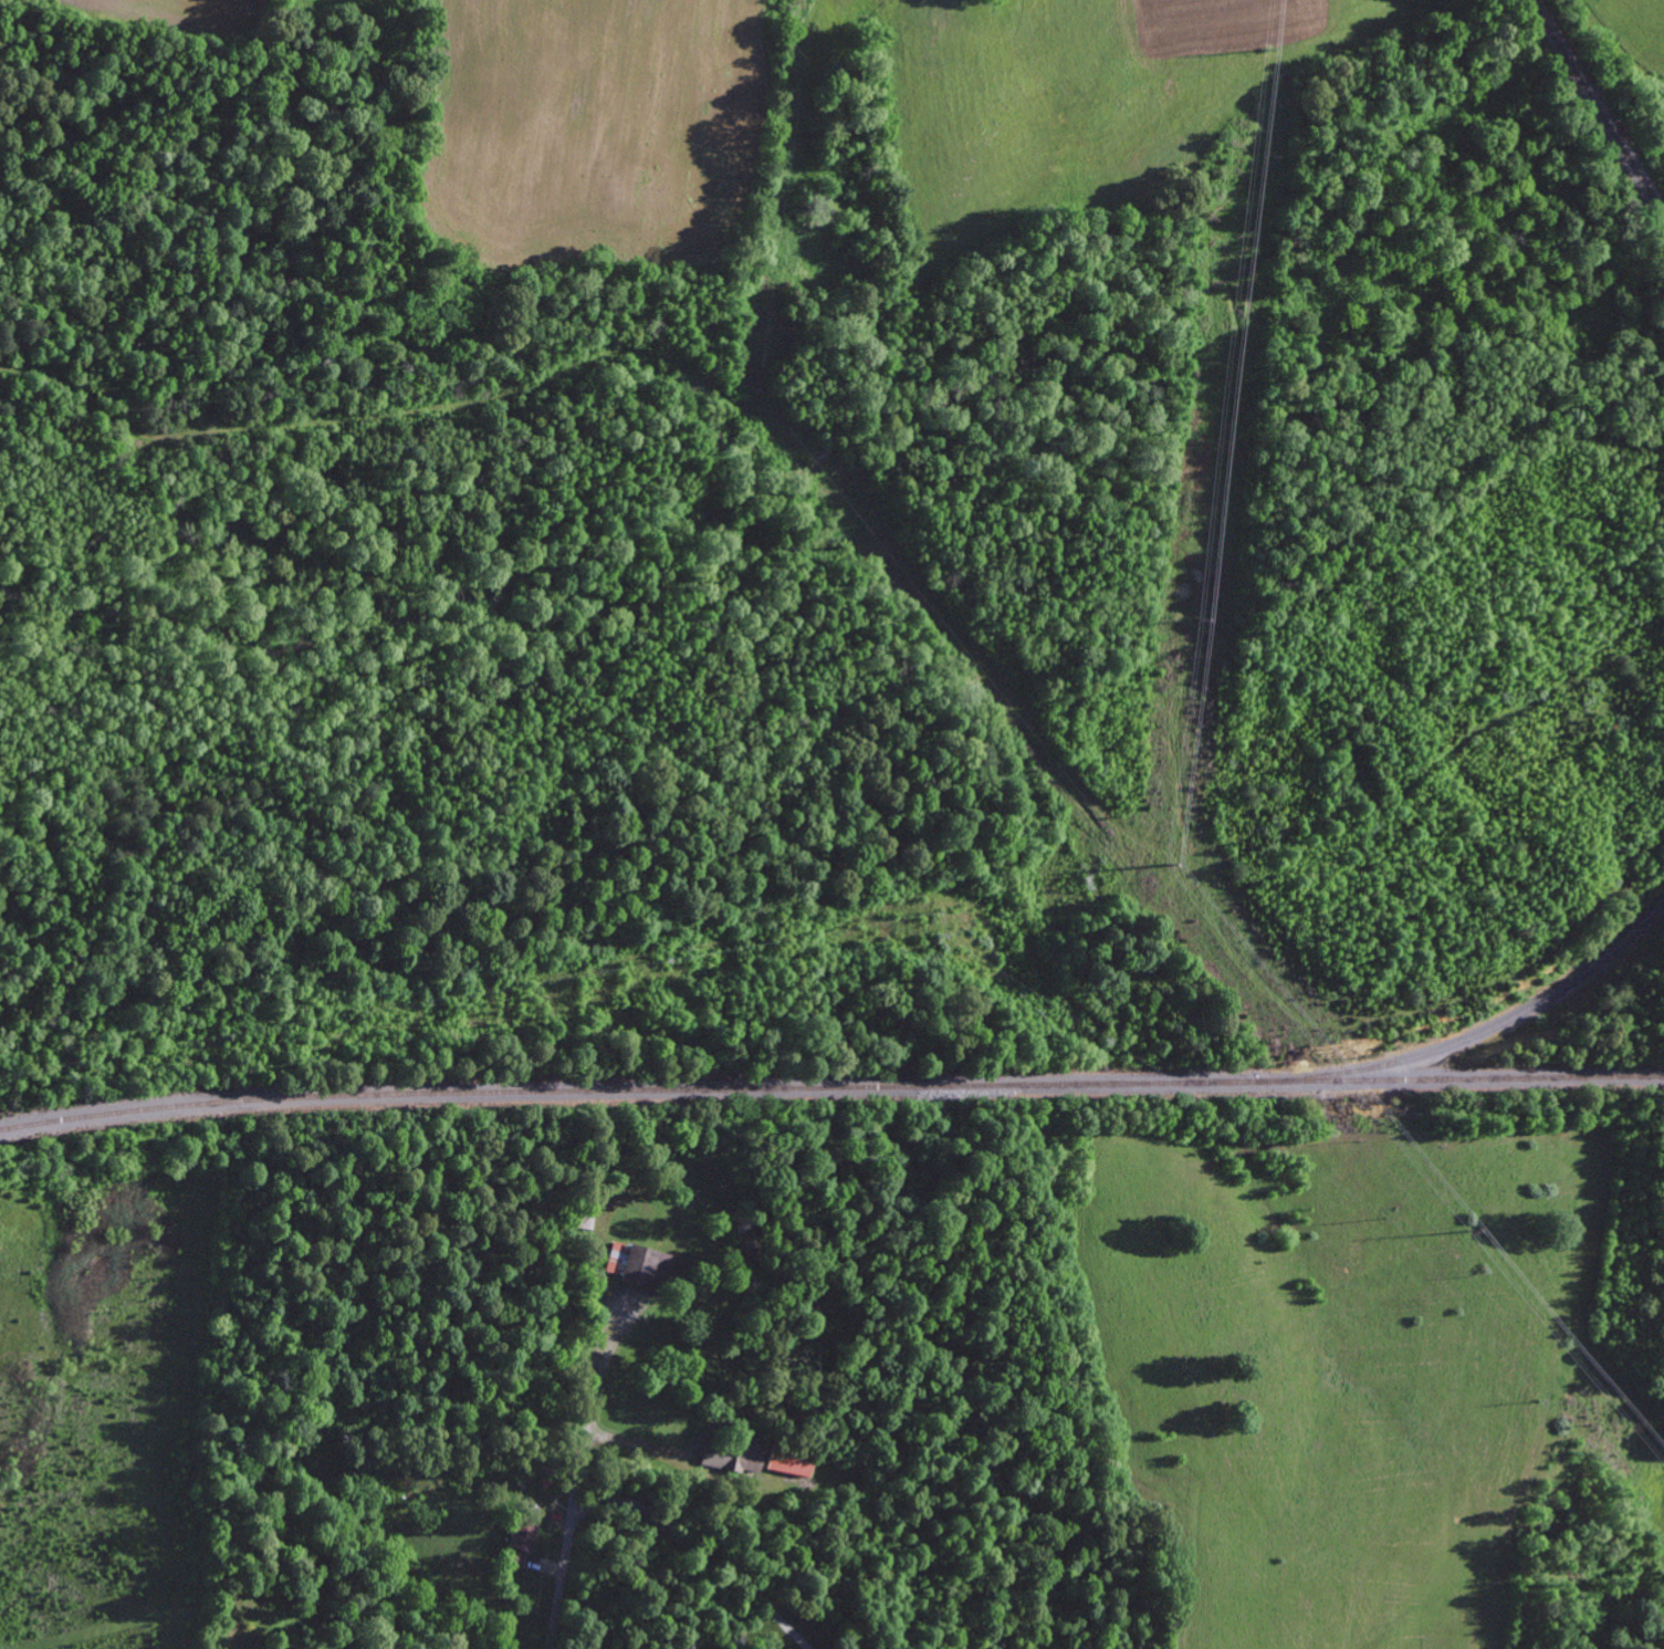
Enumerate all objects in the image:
railway: (1597, 109)
railway: (1499, 1026)
railway: (830, 1088)
building: (641, 1265)
building: (741, 1455)
building: (785, 1459)
building: (519, 1542)
road: (566, 1561)

